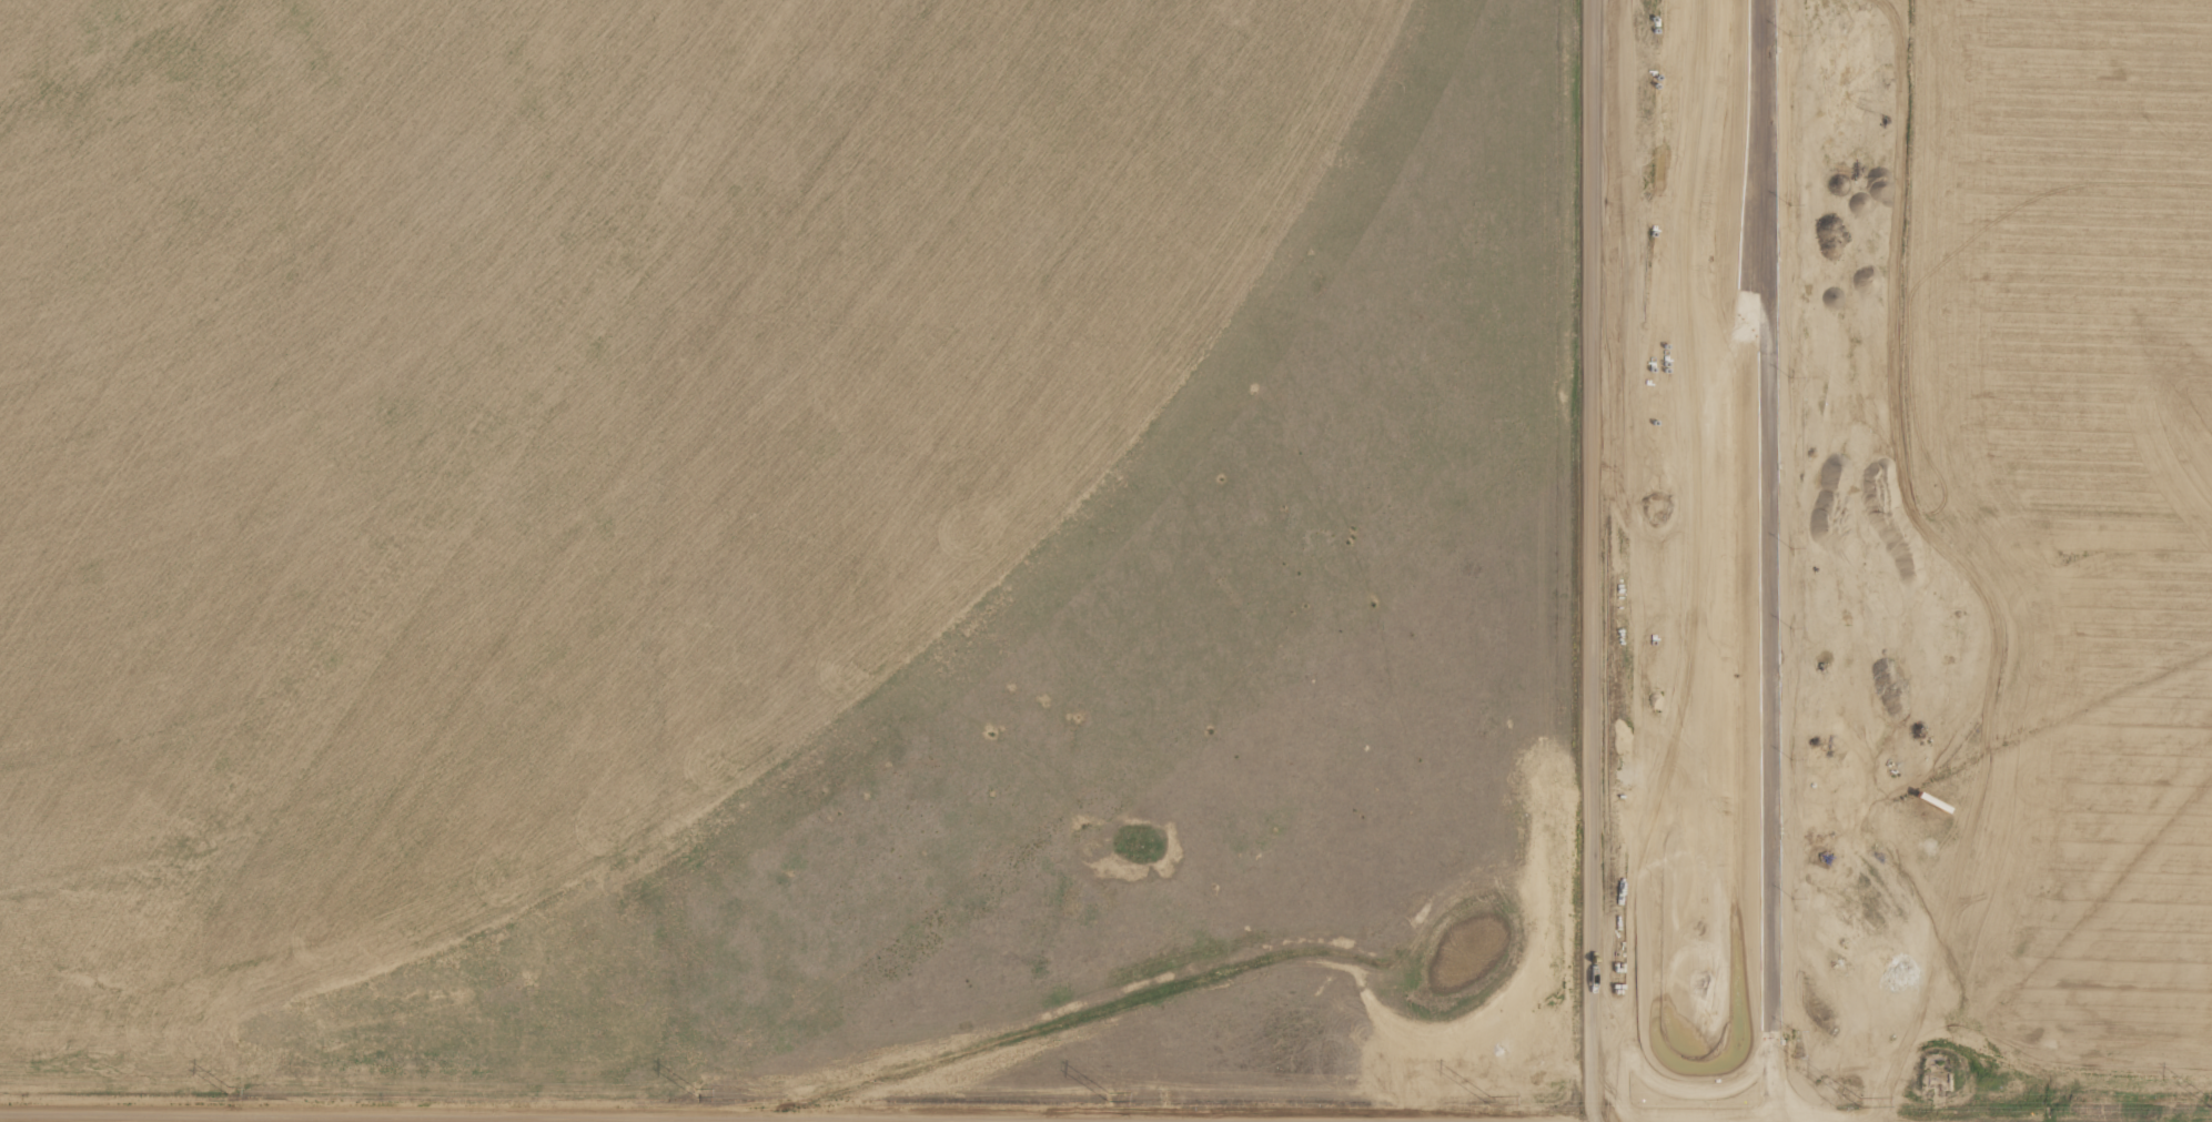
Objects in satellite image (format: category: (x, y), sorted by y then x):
road: (1594, 560)
road: (1772, 560)
power tower: (1159, 1091)
power tower: (229, 1092)
power tower: (696, 1093)
power tower: (1627, 1100)
power tower: (2095, 1102)
road: (685, 1116)

